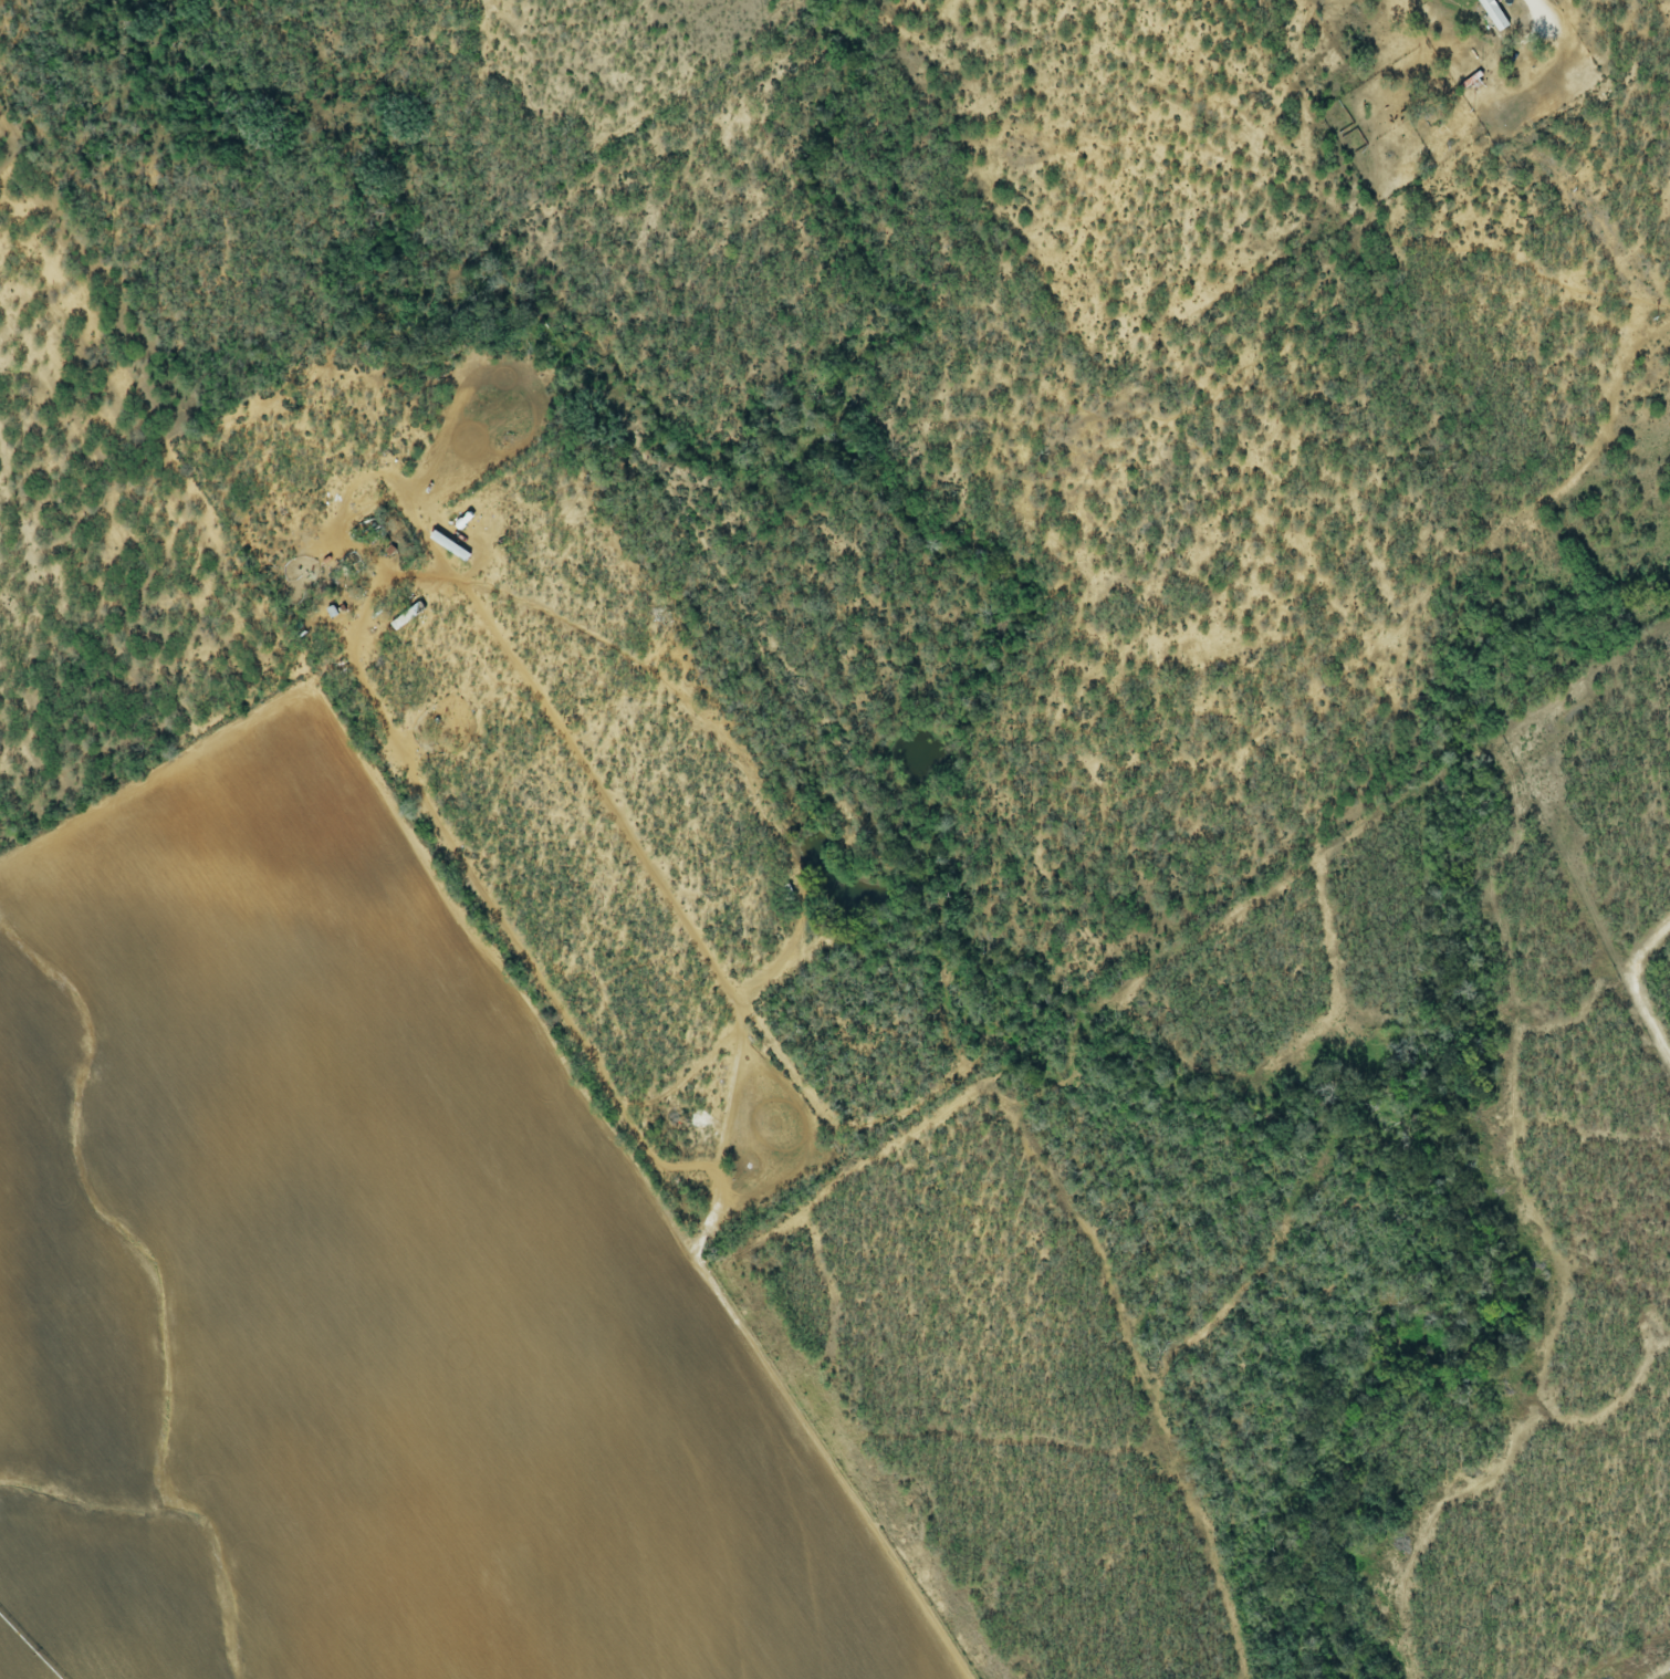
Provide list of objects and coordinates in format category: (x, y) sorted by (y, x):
road: (1541, 11)
building: (1491, 15)
road: (1639, 992)

